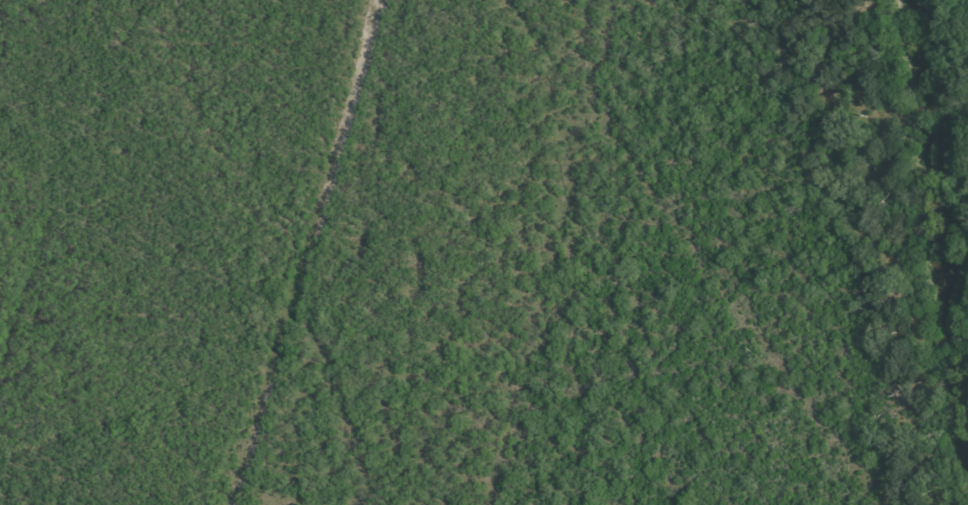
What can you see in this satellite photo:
river: (929, 249)

